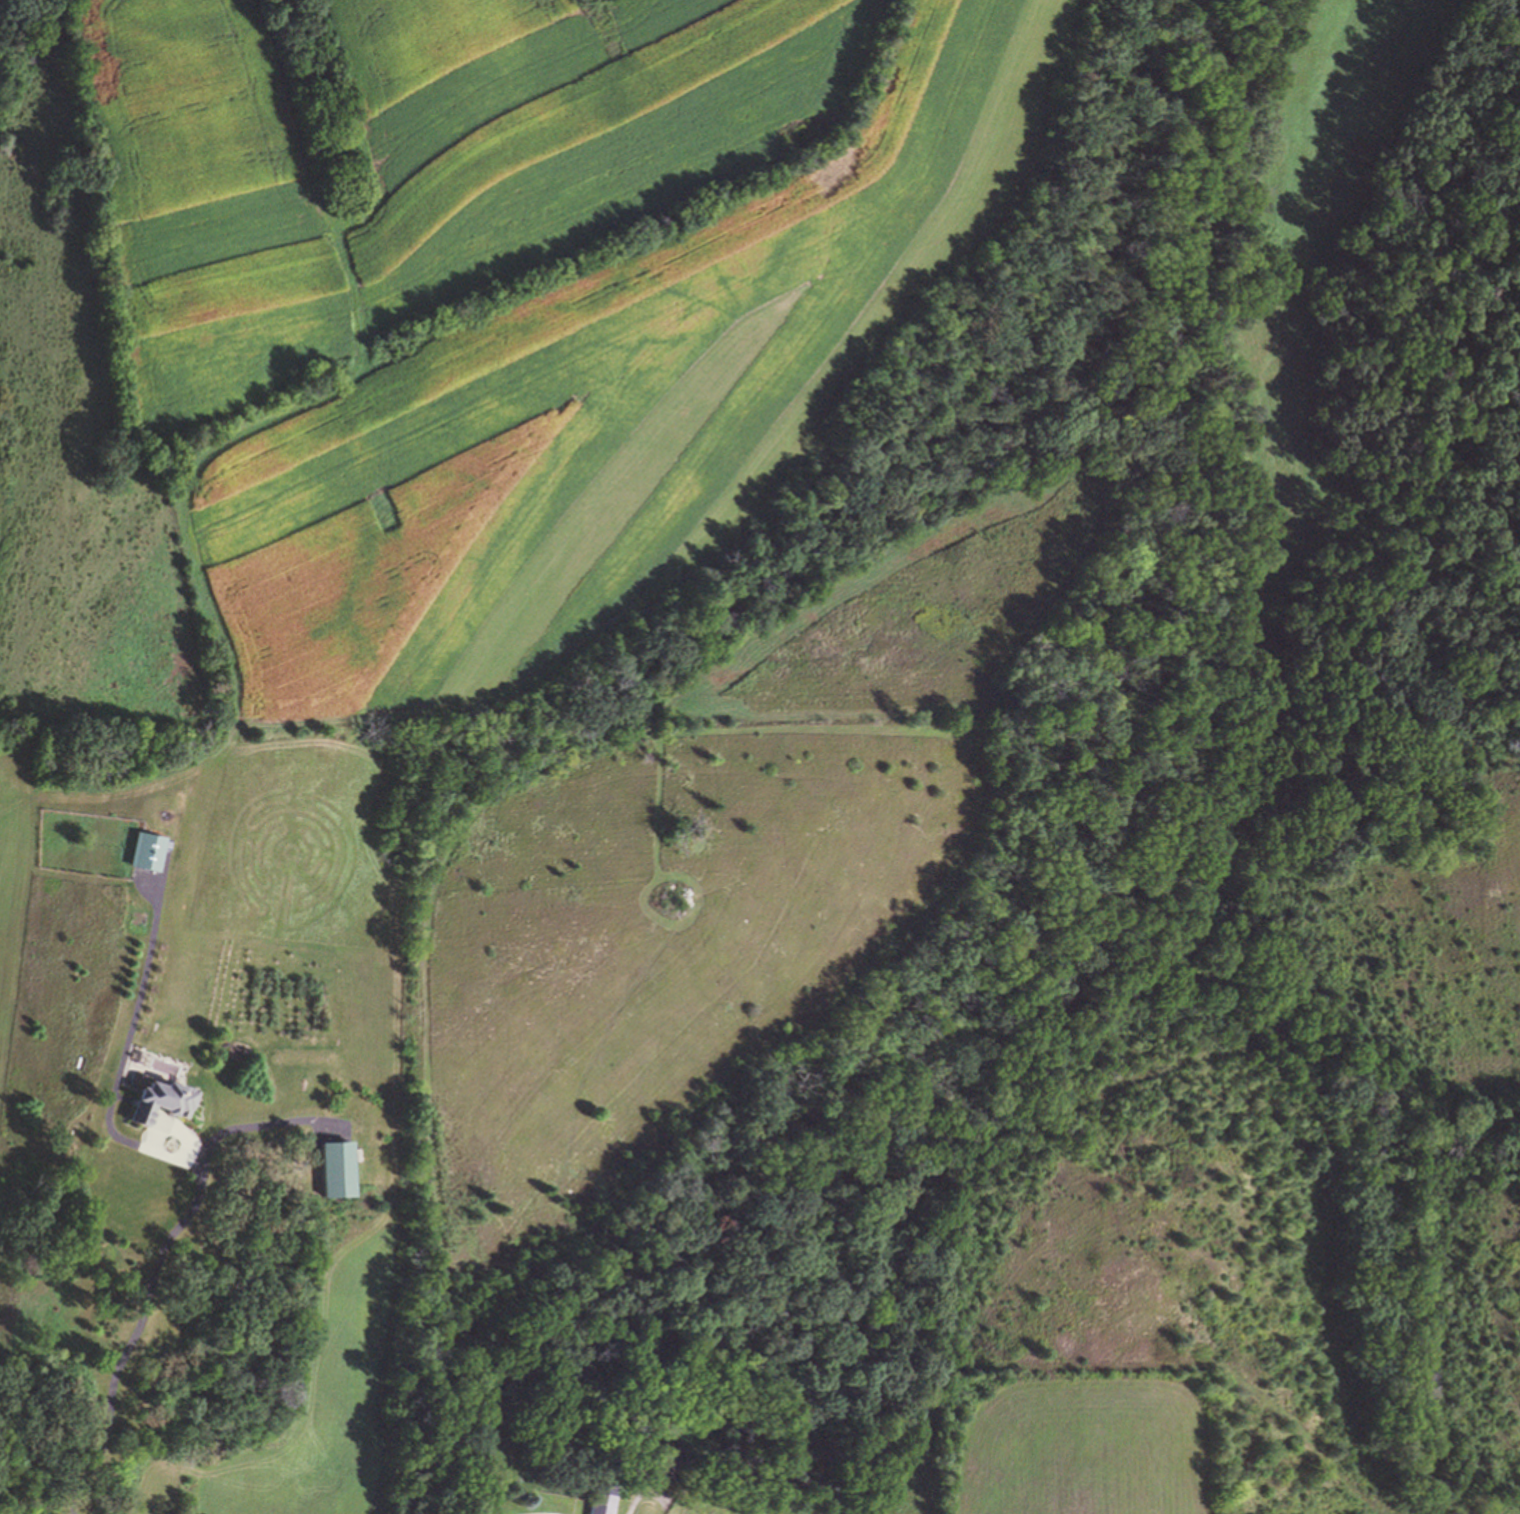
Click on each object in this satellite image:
building: (146, 852)
road: (127, 1037)
building: (162, 1101)
building: (339, 1169)
road: (161, 1267)
building: (667, 1460)
road: (622, 1492)

